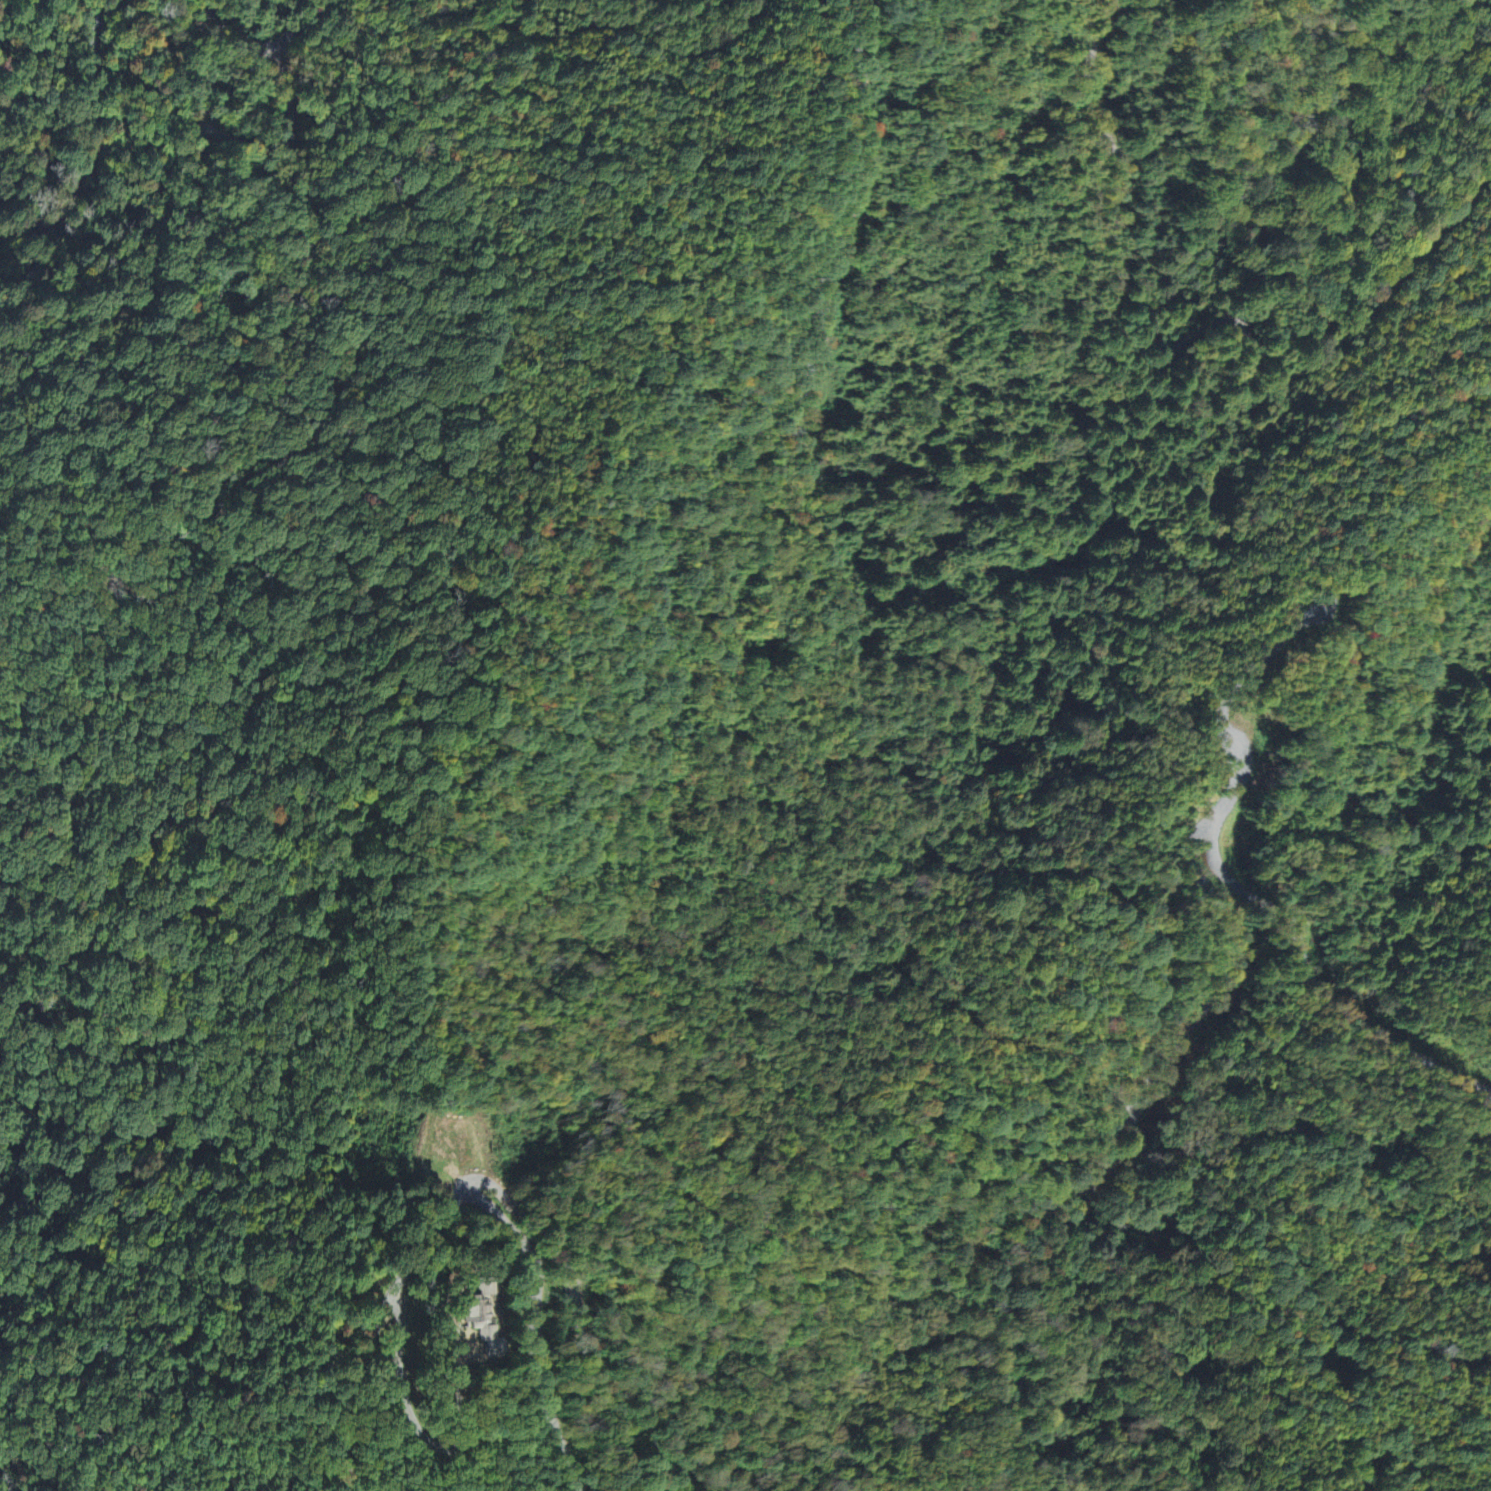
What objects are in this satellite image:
road: (588, 26)
road: (264, 44)
road: (96, 143)
road: (1188, 339)
road: (1284, 447)
road: (1199, 707)
road: (917, 858)
road: (496, 1185)
road: (536, 1326)

